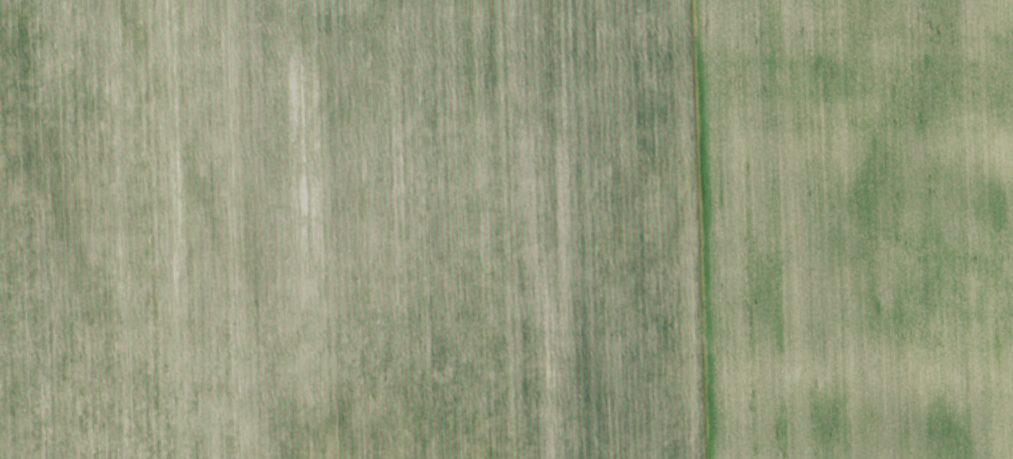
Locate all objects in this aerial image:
crop: (853, 227)
crop: (347, 230)

